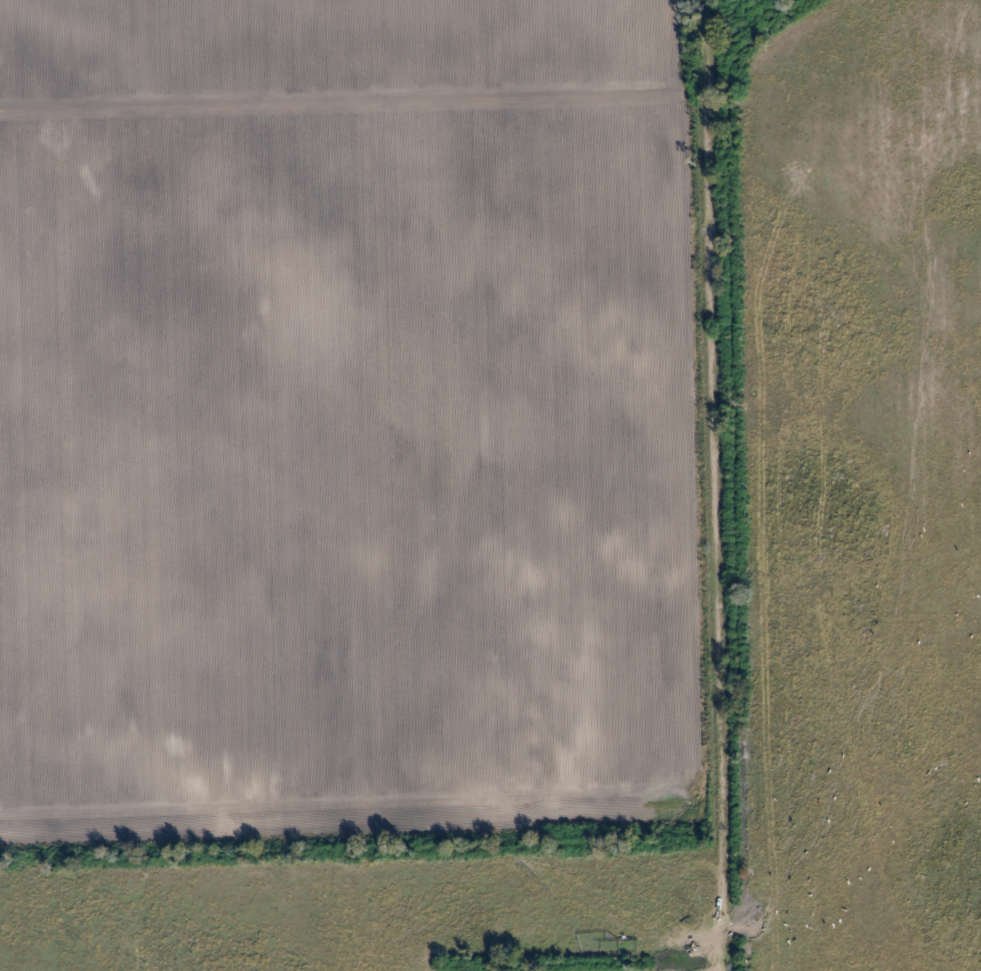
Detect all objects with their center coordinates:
road: (703, 485)

